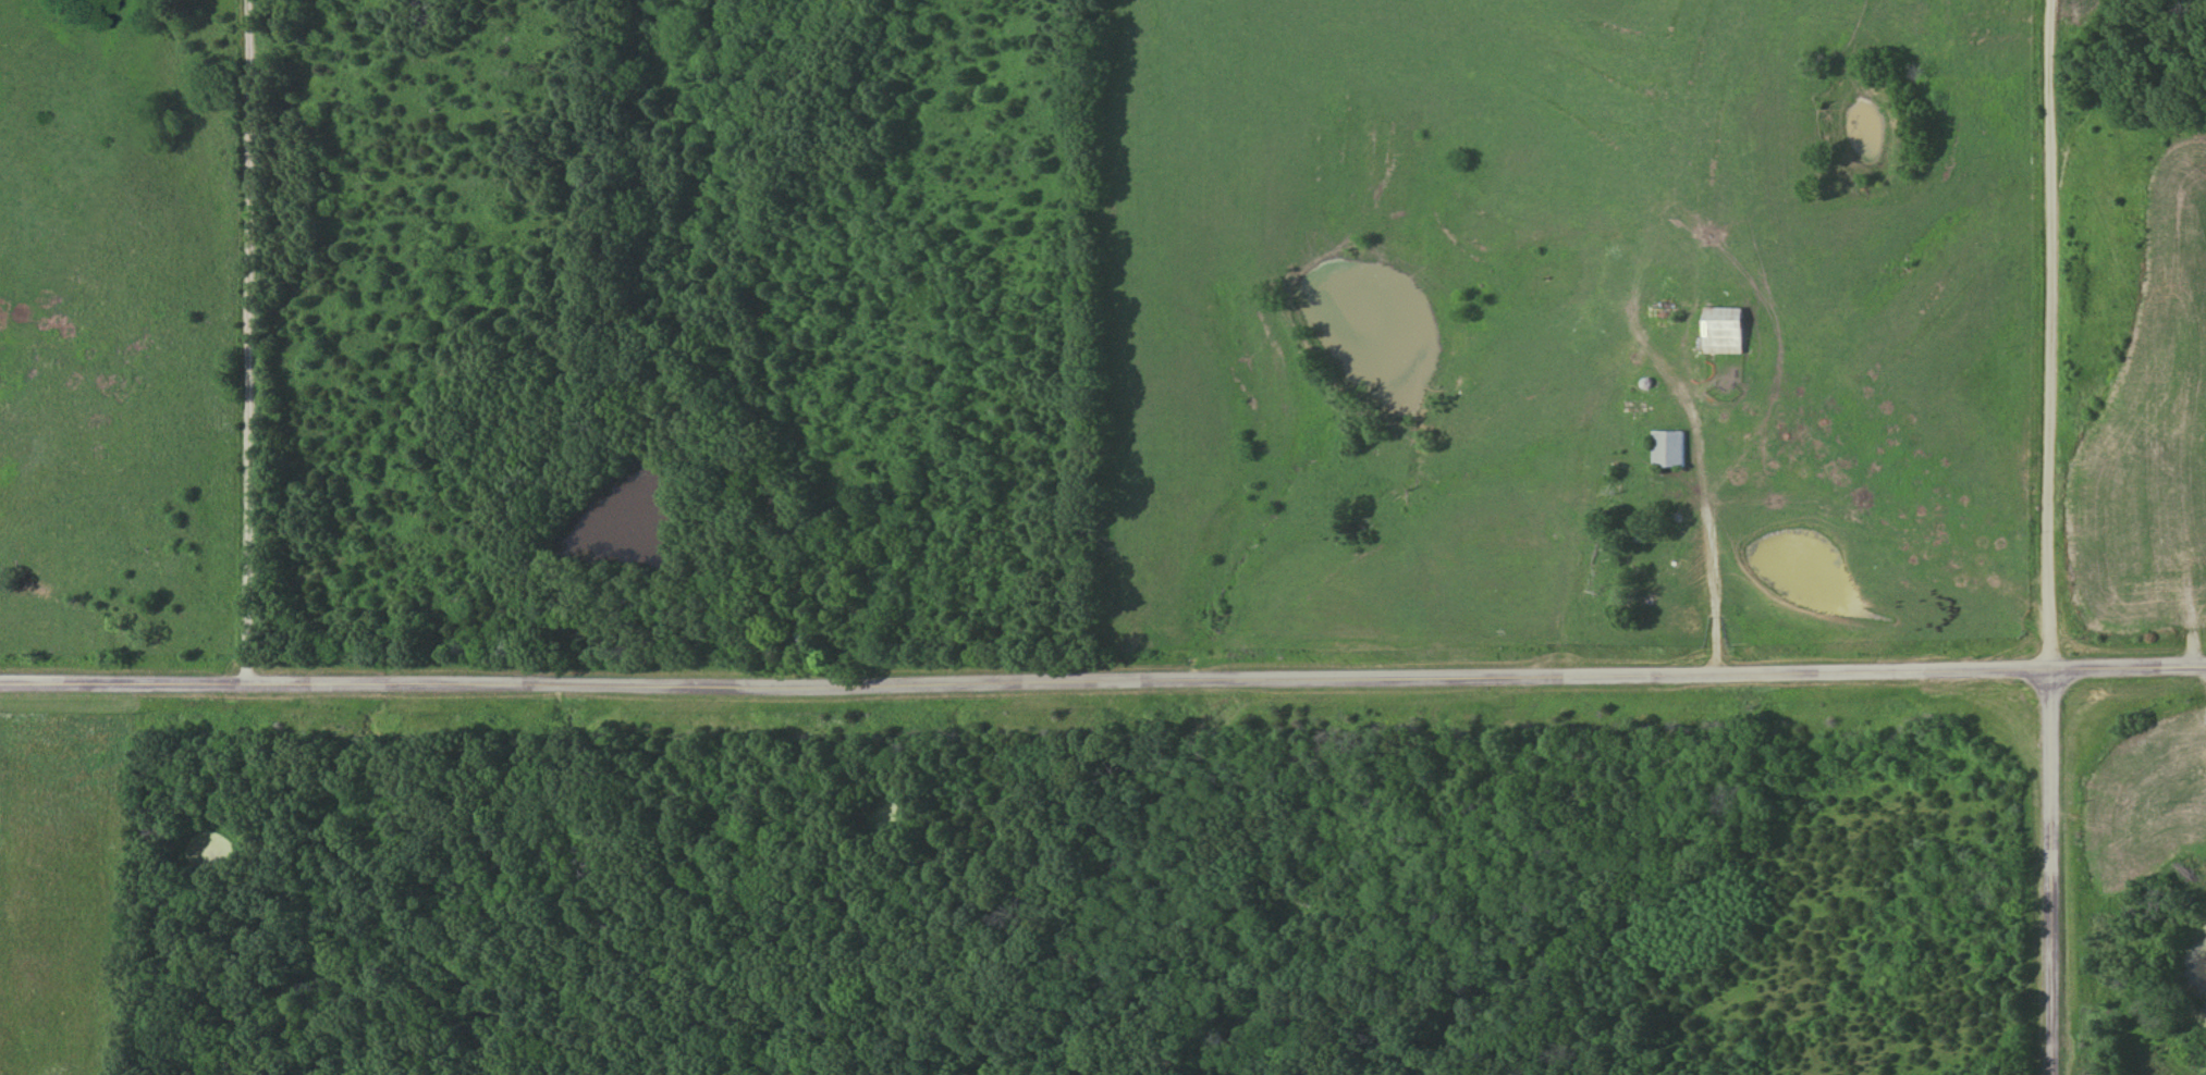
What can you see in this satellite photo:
building: (1721, 331)
road: (2047, 335)
road: (265, 342)
building: (2179, 417)
building: (1667, 449)
building: (2107, 522)
building: (1663, 592)
building: (2135, 603)
building: (804, 641)
road: (1103, 681)
building: (2180, 746)
building: (2195, 813)
building: (2141, 830)
road: (2049, 873)

